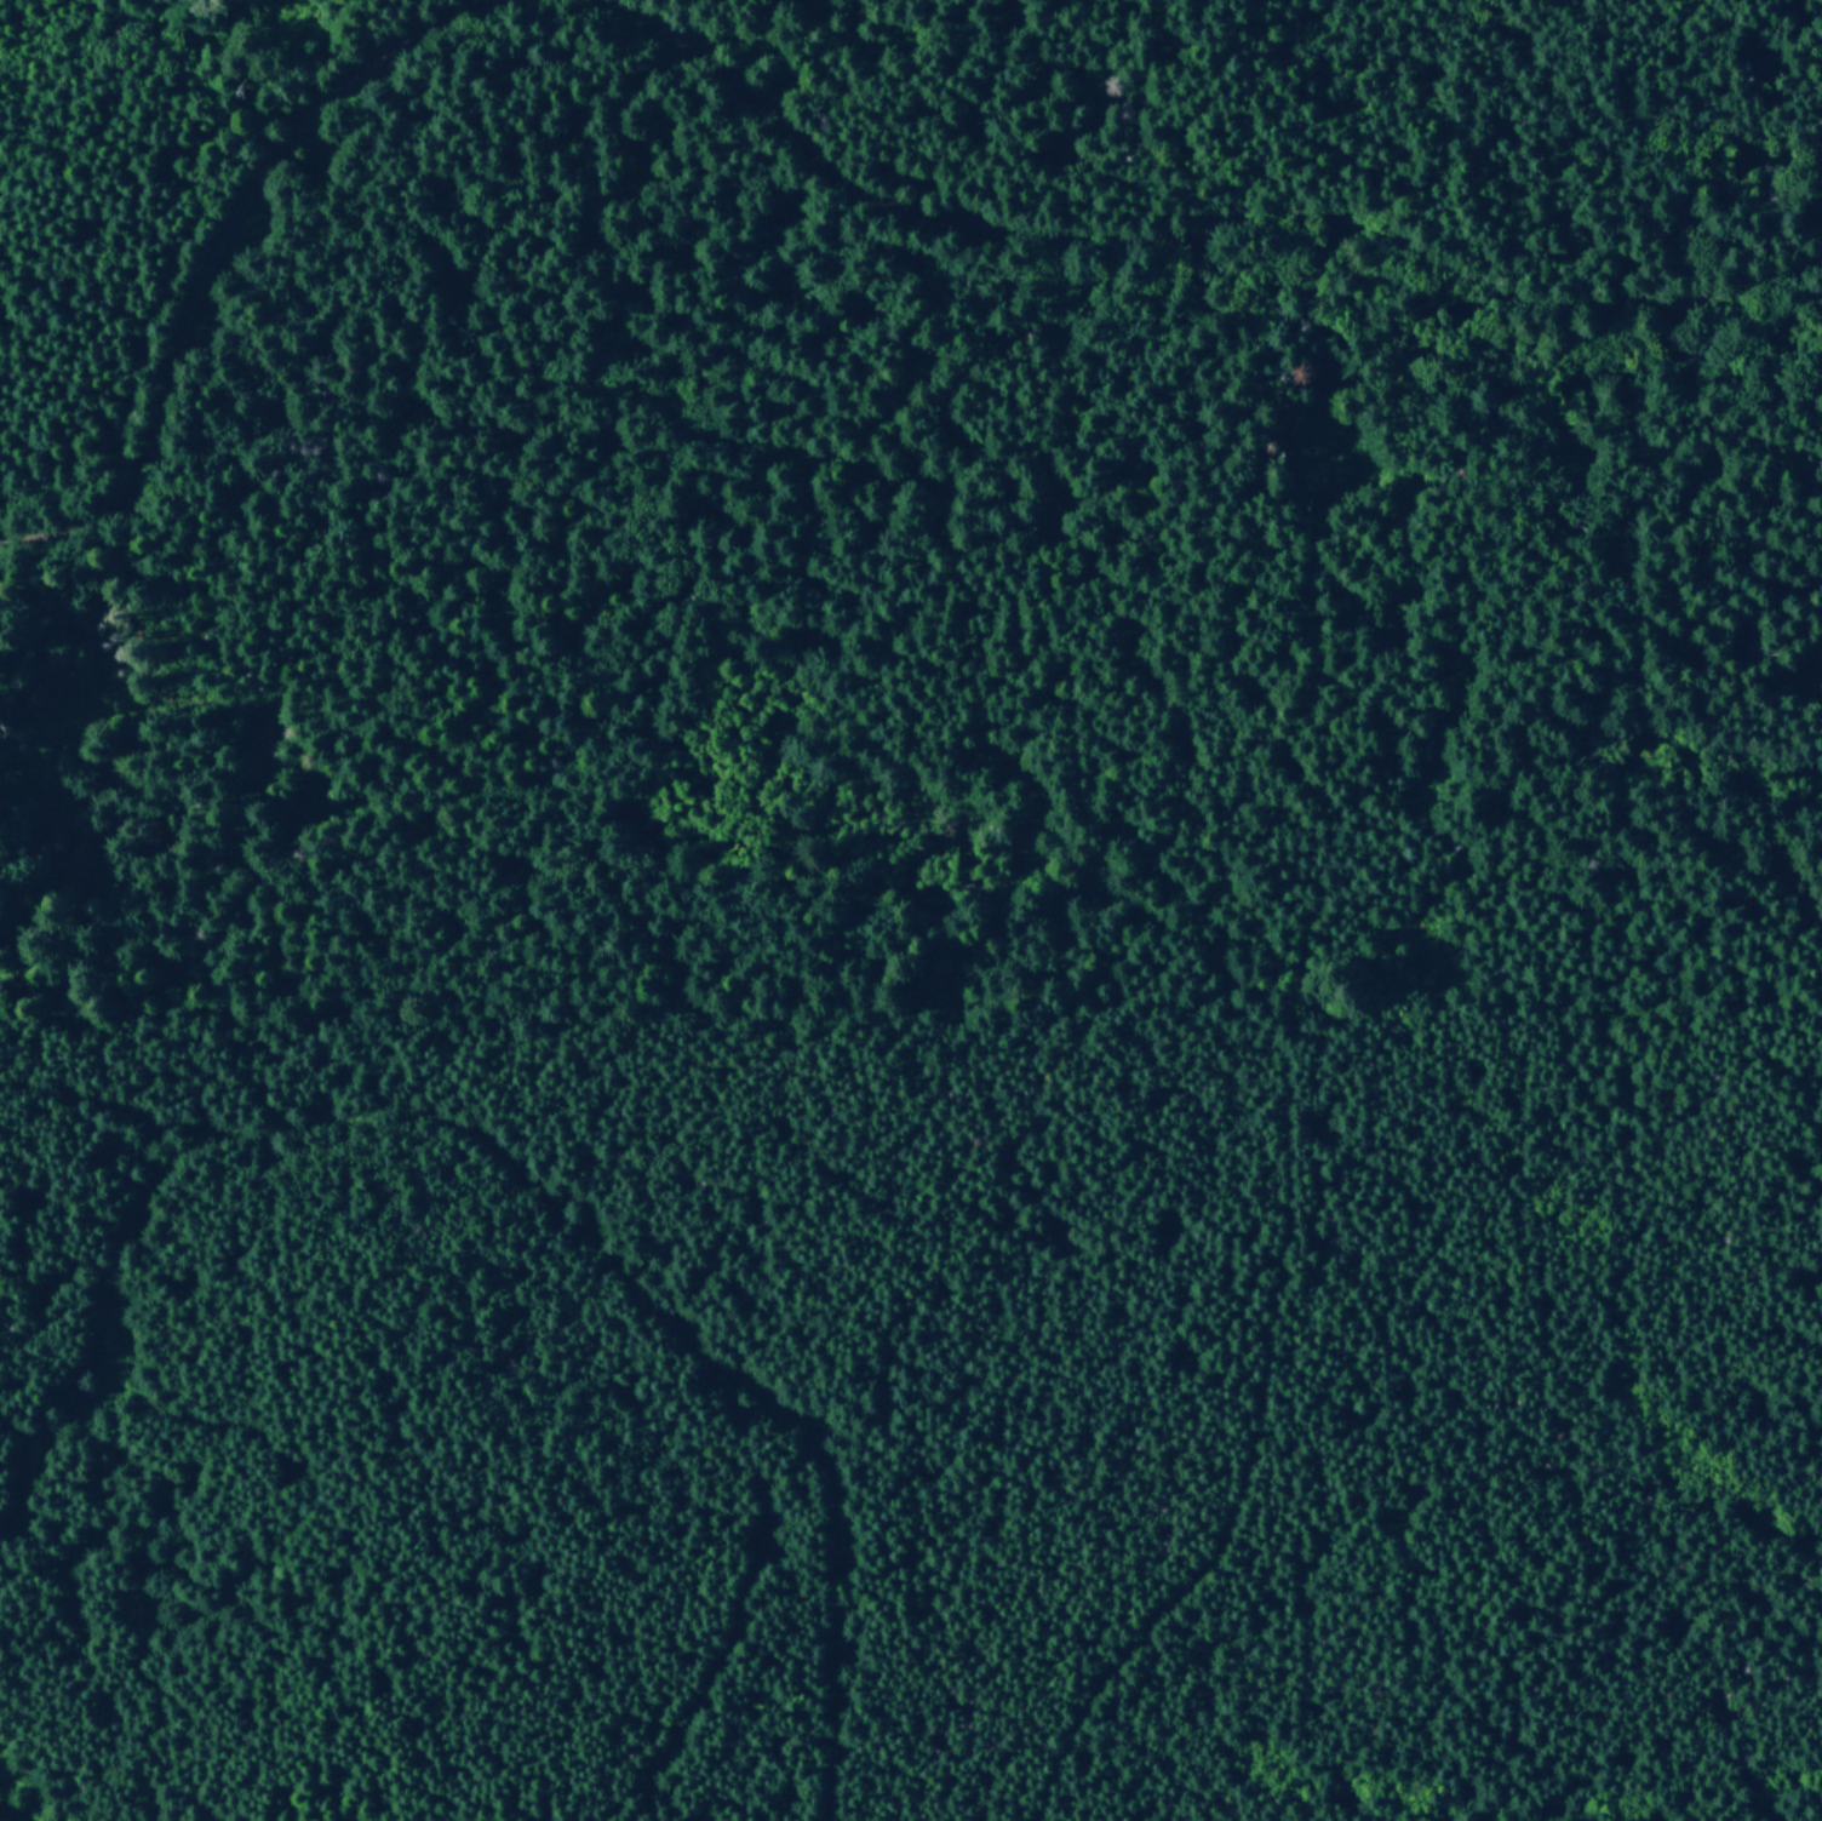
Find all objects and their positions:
road: (1133, 165)
road: (111, 181)

